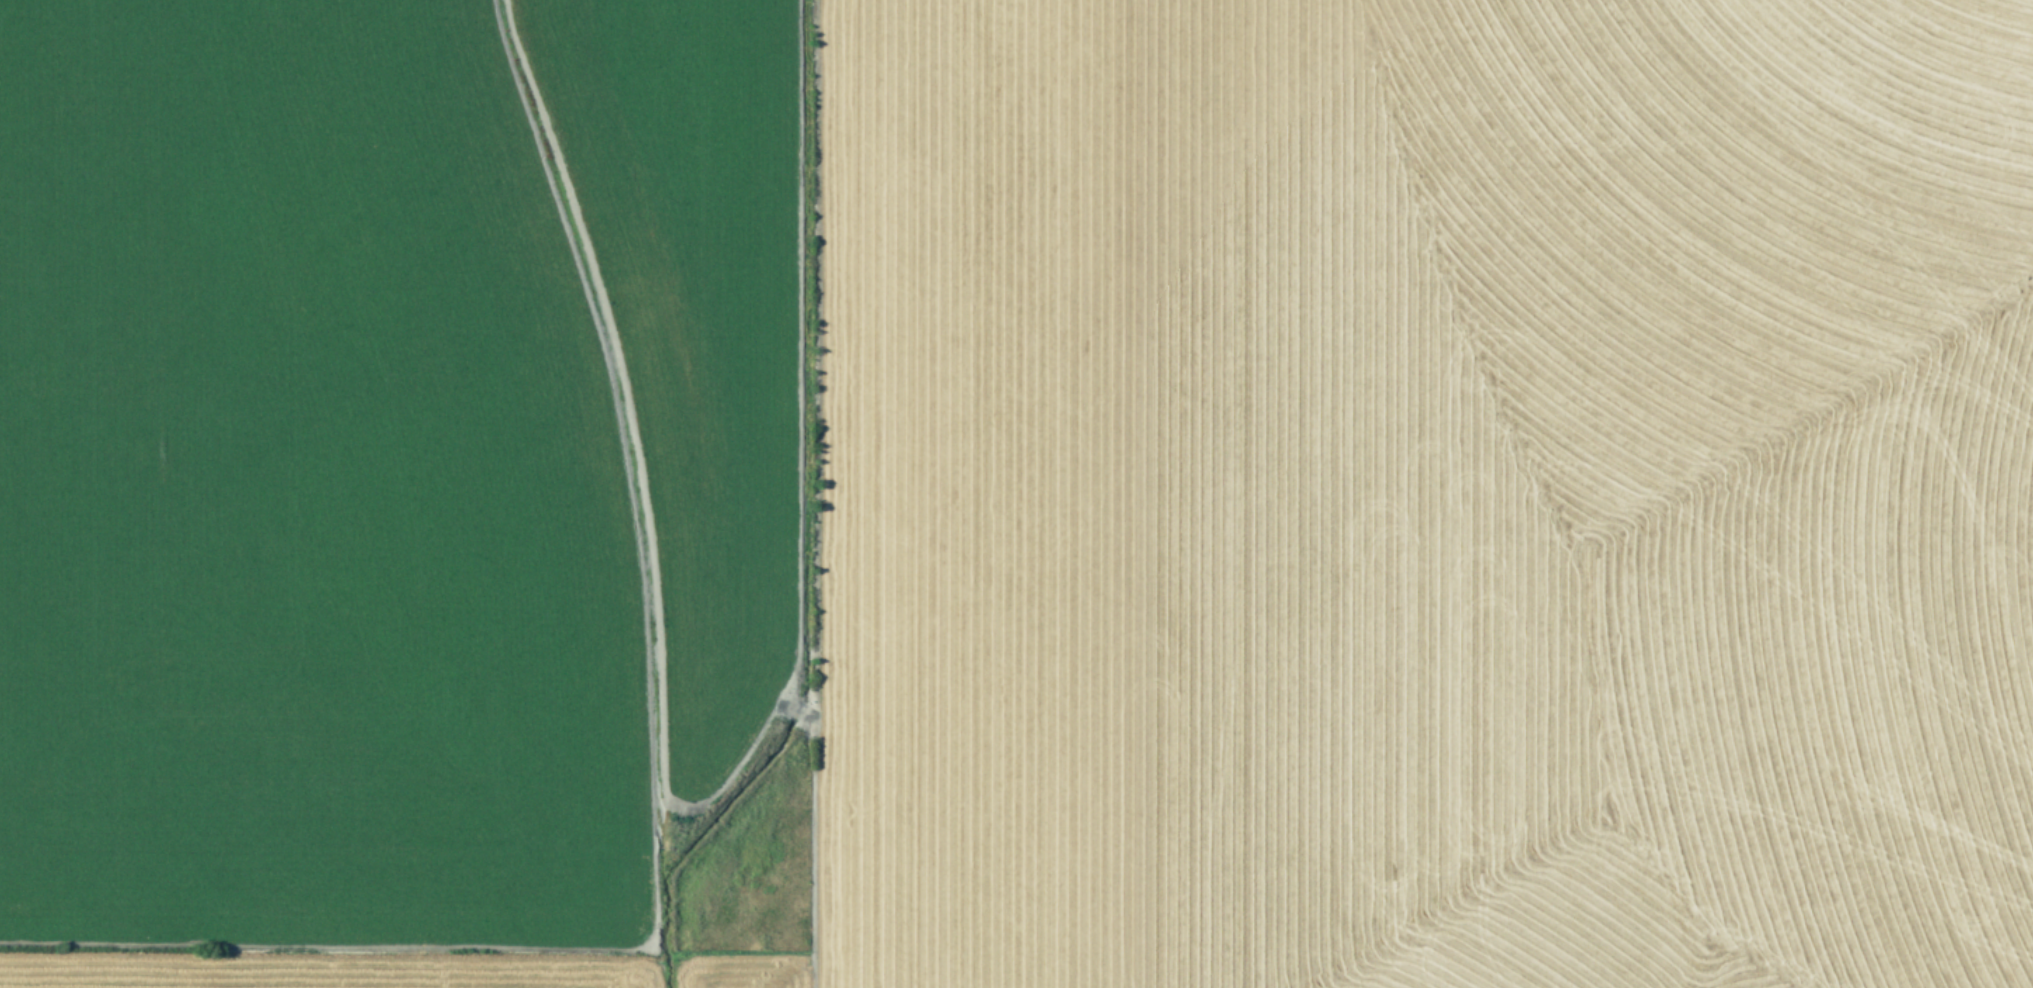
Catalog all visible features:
crop: (1016, 494)

